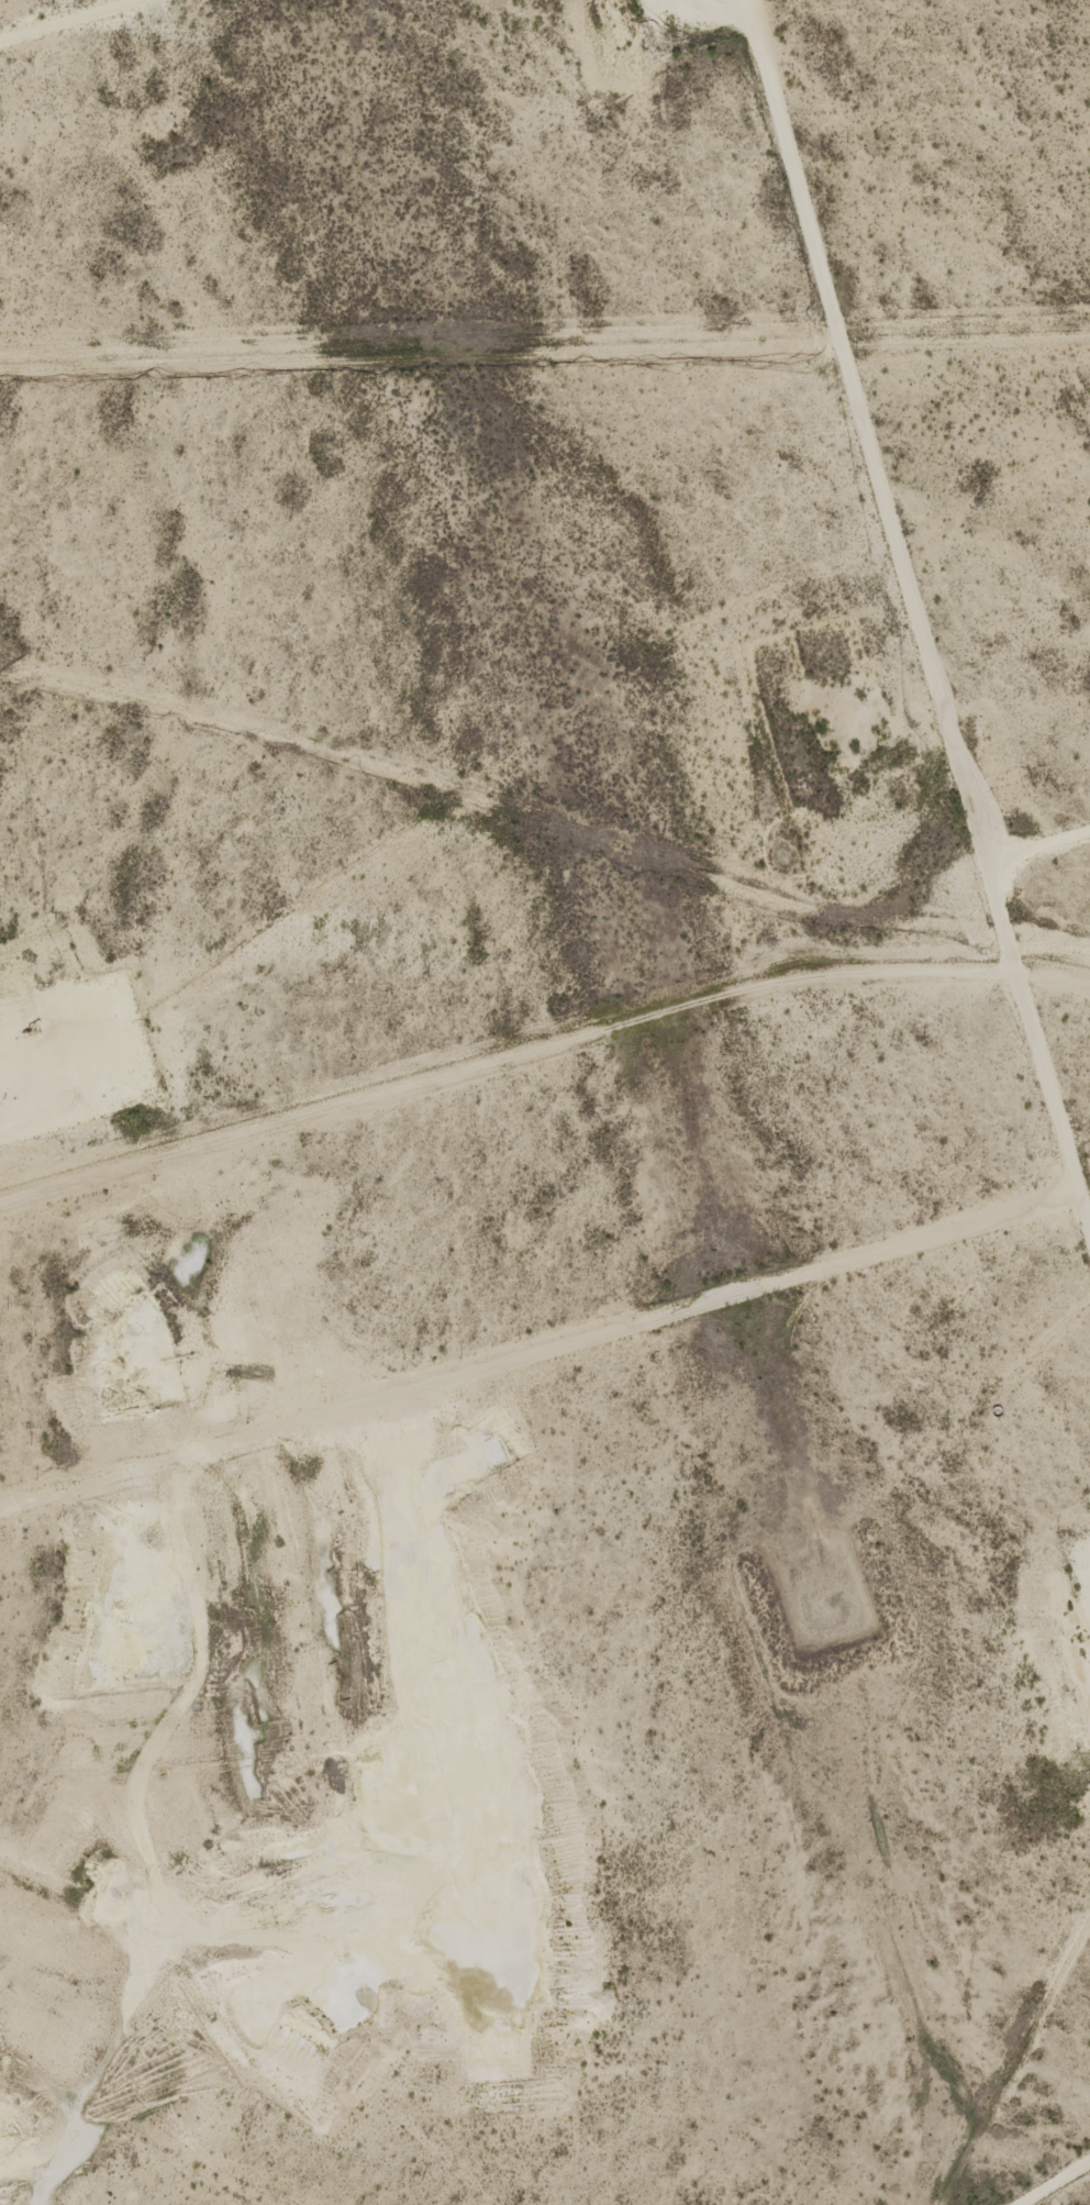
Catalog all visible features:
road: (87, 24)
road: (920, 624)
road: (76, 1105)
road: (1050, 2181)

